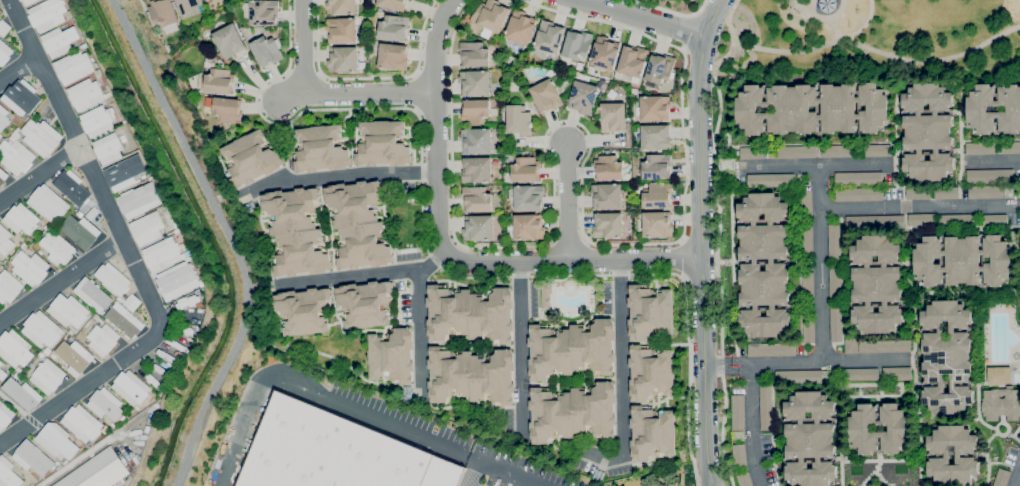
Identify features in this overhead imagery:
building: (21, 0)
building: (207, 0)
building: (29, 2)
building: (393, 4)
building: (341, 6)
building: (190, 7)
road: (732, 10)
road: (676, 11)
building: (261, 12)
building: (1, 13)
road: (695, 13)
building: (164, 14)
building: (46, 15)
road: (645, 17)
building: (492, 18)
building: (394, 27)
road: (861, 27)
building: (4, 28)
building: (520, 28)
building: (342, 30)
road: (690, 31)
road: (421, 37)
building: (549, 37)
park: (868, 39)
building: (228, 40)
building: (59, 41)
building: (84, 45)
building: (576, 45)
road: (301, 47)
road: (683, 48)
building: (266, 50)
road: (879, 50)
building: (4, 53)
building: (604, 53)
building: (474, 55)
building: (393, 56)
building: (343, 59)
building: (633, 61)
building: (73, 67)
building: (660, 68)
road: (18, 69)
building: (97, 72)
road: (433, 76)
road: (329, 77)
building: (218, 80)
building: (475, 83)
road: (417, 92)
road: (355, 93)
building: (86, 94)
building: (546, 96)
building: (21, 97)
building: (583, 97)
building: (655, 108)
building: (839, 108)
building: (1007, 109)
building: (226, 110)
building: (475, 111)
road: (434, 113)
building: (33, 114)
building: (3, 117)
building: (613, 117)
building: (519, 120)
building: (98, 121)
road: (435, 125)
building: (927, 131)
building: (0, 136)
building: (41, 137)
building: (655, 137)
building: (123, 138)
building: (476, 141)
building: (382, 144)
building: (1010, 147)
building: (108, 148)
building: (980, 148)
building: (321, 149)
building: (876, 150)
building: (838, 151)
building: (792, 152)
building: (752, 153)
building: (15, 155)
building: (251, 158)
road: (584, 160)
road: (993, 161)
road: (85, 163)
road: (813, 166)
building: (656, 167)
building: (727, 167)
building: (609, 168)
building: (525, 169)
building: (476, 170)
building: (125, 173)
road: (39, 175)
building: (989, 176)
building: (2, 177)
building: (143, 177)
road: (343, 177)
building: (150, 178)
building: (896, 178)
building: (858, 179)
building: (770, 180)
building: (990, 191)
building: (75, 192)
building: (918, 193)
building: (946, 193)
building: (858, 194)
building: (607, 196)
building: (658, 196)
building: (527, 197)
building: (477, 199)
building: (139, 200)
road: (567, 203)
building: (48, 204)
building: (806, 205)
road: (919, 207)
building: (79, 214)
building: (21, 219)
building: (921, 219)
building: (957, 220)
building: (995, 220)
building: (875, 222)
building: (358, 224)
building: (657, 224)
building: (608, 225)
building: (45, 226)
building: (527, 227)
building: (148, 228)
building: (478, 228)
building: (80, 231)
building: (296, 232)
building: (43, 233)
road: (701, 237)
building: (5, 240)
road: (702, 241)
building: (806, 242)
building: (834, 242)
building: (22, 244)
building: (56, 247)
road: (718, 249)
building: (39, 253)
building: (164, 254)
road: (683, 257)
road: (573, 260)
building: (962, 260)
road: (820, 263)
road: (440, 264)
building: (764, 265)
building: (29, 267)
road: (367, 275)
road: (700, 276)
building: (113, 279)
building: (178, 280)
road: (61, 281)
building: (835, 282)
building: (877, 284)
building: (9, 287)
building: (808, 290)
building: (93, 295)
building: (546, 296)
building: (119, 299)
building: (132, 302)
building: (365, 304)
building: (199, 308)
building: (68, 311)
building: (304, 311)
building: (649, 312)
building: (470, 314)
building: (100, 320)
building: (125, 322)
building: (836, 323)
road: (420, 325)
building: (197, 327)
building: (808, 327)
building: (41, 329)
building: (183, 330)
building: (103, 339)
building: (176, 345)
building: (851, 345)
building: (884, 346)
road: (521, 348)
building: (571, 349)
building: (771, 349)
building: (15, 350)
building: (47, 351)
building: (41, 354)
building: (391, 356)
building: (74, 357)
building: (167, 357)
building: (947, 358)
road: (805, 361)
building: (1, 363)
building: (174, 367)
building: (162, 369)
building: (1019, 371)
building: (650, 373)
building: (2, 374)
building: (860, 374)
building: (897, 374)
building: (997, 375)
building: (48, 376)
building: (471, 376)
road: (617, 376)
building: (803, 376)
road: (81, 387)
building: (131, 387)
building: (22, 393)
road: (317, 395)
building: (1001, 403)
road: (13, 404)
building: (105, 404)
building: (765, 406)
building: (137, 407)
building: (572, 412)
building: (5, 416)
building: (738, 417)
road: (29, 418)
building: (82, 423)
building: (113, 424)
road: (752, 425)
building: (898, 429)
building: (652, 433)
building: (105, 435)
building: (810, 439)
building: (56, 440)
building: (89, 444)
building: (336, 453)
building: (952, 454)
building: (740, 456)
building: (32, 458)
building: (96, 471)
road: (474, 473)
road: (509, 473)
building: (8, 474)
parking lot: (517, 475)
building: (1001, 477)
building: (744, 479)
road: (1018, 481)
building: (31, 485)

